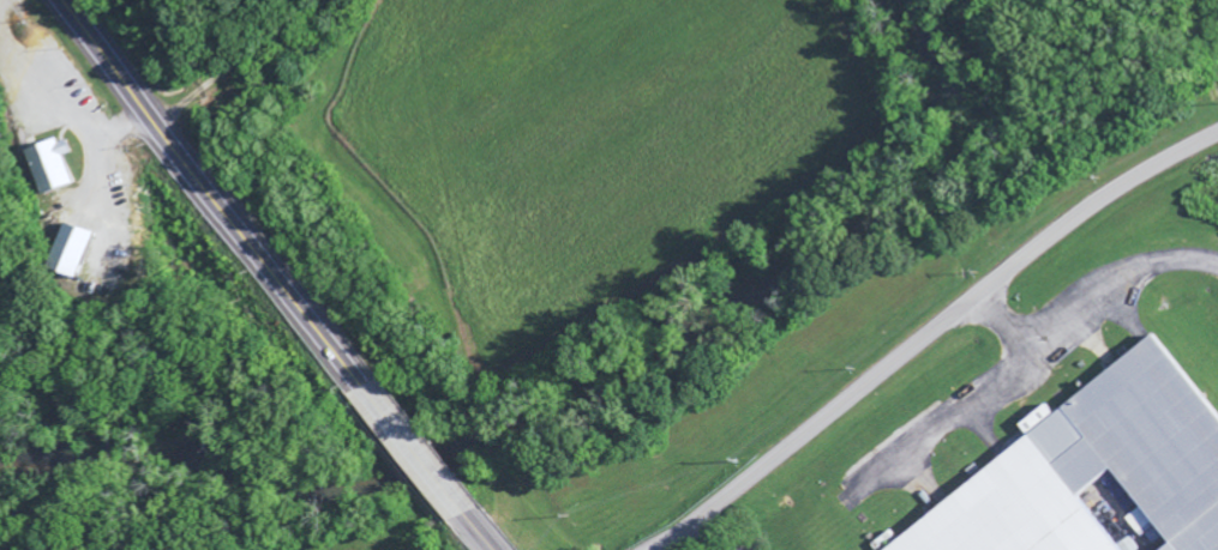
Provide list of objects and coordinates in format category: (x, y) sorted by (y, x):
building: (49, 164)
building: (77, 249)
road: (277, 274)
road: (934, 333)
building: (1094, 473)
building: (887, 540)

